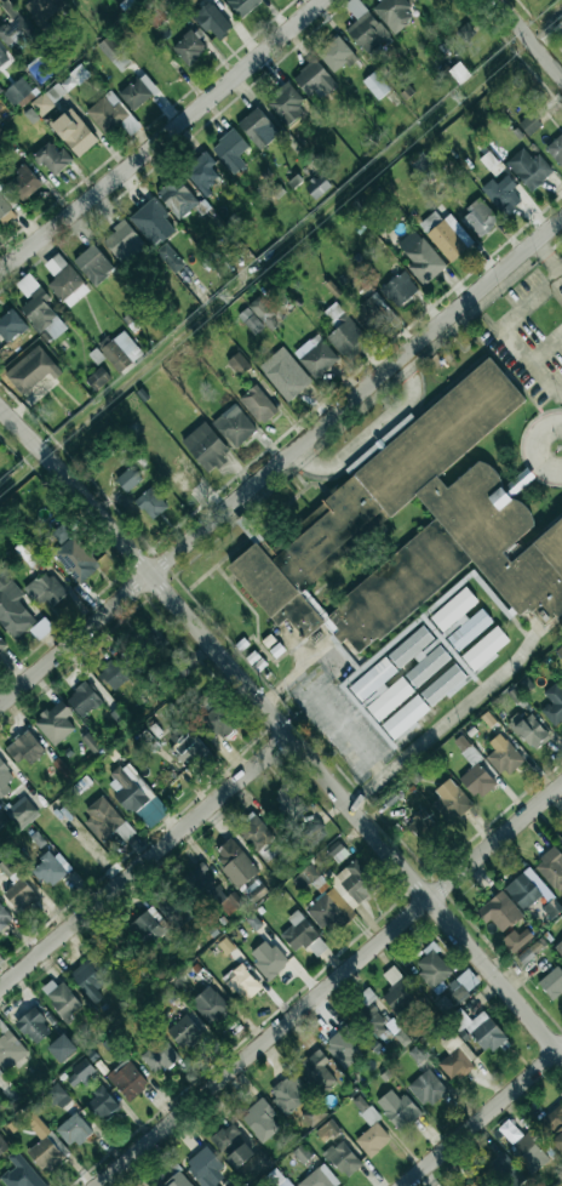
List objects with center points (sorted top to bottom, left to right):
building: (179, 0)
building: (412, 0)
building: (242, 6)
building: (41, 10)
building: (394, 13)
building: (154, 15)
building: (212, 21)
building: (365, 27)
building: (15, 29)
road: (528, 38)
building: (190, 47)
building: (114, 53)
building: (336, 55)
building: (2, 58)
building: (459, 73)
building: (314, 78)
building: (375, 85)
building: (59, 90)
building: (17, 91)
building: (138, 92)
power tower: (457, 97)
building: (286, 104)
building: (107, 113)
building: (529, 124)
building: (130, 125)
building: (258, 129)
building: (74, 132)
road: (162, 137)
building: (556, 149)
building: (230, 150)
building: (51, 158)
building: (529, 169)
building: (201, 172)
building: (24, 183)
building: (317, 187)
building: (500, 194)
building: (177, 198)
building: (5, 205)
building: (478, 218)
building: (153, 223)
building: (446, 235)
building: (122, 241)
building: (168, 257)
building: (420, 257)
road: (546, 258)
building: (93, 264)
road: (561, 275)
building: (64, 281)
building: (398, 289)
power tower: (223, 296)
building: (39, 308)
building: (373, 314)
building: (258, 317)
building: (8, 326)
road: (503, 332)
building: (345, 335)
road: (545, 349)
building: (120, 350)
building: (316, 358)
building: (237, 364)
building: (30, 370)
building: (285, 374)
building: (97, 378)
road: (124, 384)
building: (258, 404)
building: (234, 426)
road: (367, 435)
building: (206, 446)
road: (532, 447)
road: (281, 461)
building: (128, 479)
building: (518, 481)
building: (150, 503)
building: (477, 507)
building: (25, 552)
building: (73, 554)
building: (45, 591)
building: (12, 609)
building: (453, 610)
building: (469, 629)
building: (150, 638)
building: (1, 644)
building: (409, 646)
building: (484, 649)
building: (560, 652)
building: (426, 666)
building: (115, 673)
building: (445, 685)
building: (380, 690)
building: (514, 695)
building: (82, 700)
building: (554, 705)
building: (214, 714)
building: (117, 717)
building: (405, 717)
building: (55, 723)
parking lot: (340, 723)
road: (339, 725)
road: (282, 729)
building: (528, 730)
building: (90, 743)
building: (185, 746)
building: (24, 748)
building: (504, 755)
building: (61, 768)
building: (5, 777)
building: (477, 781)
building: (134, 796)
building: (451, 798)
building: (289, 802)
building: (23, 815)
building: (2, 820)
building: (102, 820)
building: (420, 825)
building: (314, 829)
building: (256, 832)
building: (561, 839)
building: (90, 846)
building: (337, 851)
road: (143, 857)
building: (235, 862)
building: (50, 868)
building: (551, 868)
building: (201, 877)
building: (18, 886)
building: (253, 890)
building: (531, 893)
building: (342, 895)
building: (171, 903)
building: (499, 912)
building: (4, 917)
building: (148, 925)
building: (302, 935)
building: (517, 939)
building: (225, 946)
building: (558, 946)
building: (110, 948)
building: (527, 954)
building: (268, 959)
building: (91, 976)
building: (443, 979)
building: (242, 982)
road: (329, 983)
building: (552, 983)
building: (397, 994)
building: (366, 997)
building: (62, 999)
building: (211, 1007)
building: (379, 1025)
building: (33, 1026)
building: (480, 1030)
building: (184, 1033)
building: (343, 1045)
building: (61, 1048)
building: (8, 1049)
building: (159, 1056)
building: (455, 1057)
building: (316, 1071)
building: (0, 1073)
building: (79, 1073)
building: (126, 1079)
building: (426, 1088)
building: (288, 1093)
building: (57, 1095)
building: (103, 1104)
building: (365, 1110)
building: (397, 1110)
building: (314, 1114)
road: (482, 1117)
building: (260, 1121)
building: (551, 1121)
building: (73, 1130)
building: (326, 1131)
building: (372, 1140)
building: (557, 1140)
building: (44, 1142)
building: (2, 1146)
building: (231, 1146)
building: (526, 1146)
building: (302, 1153)
building: (343, 1158)
building: (253, 1165)
building: (203, 1167)
building: (504, 1171)
building: (21, 1174)
building: (176, 1175)
building: (320, 1178)
building: (275, 1179)
building: (472, 1184)

